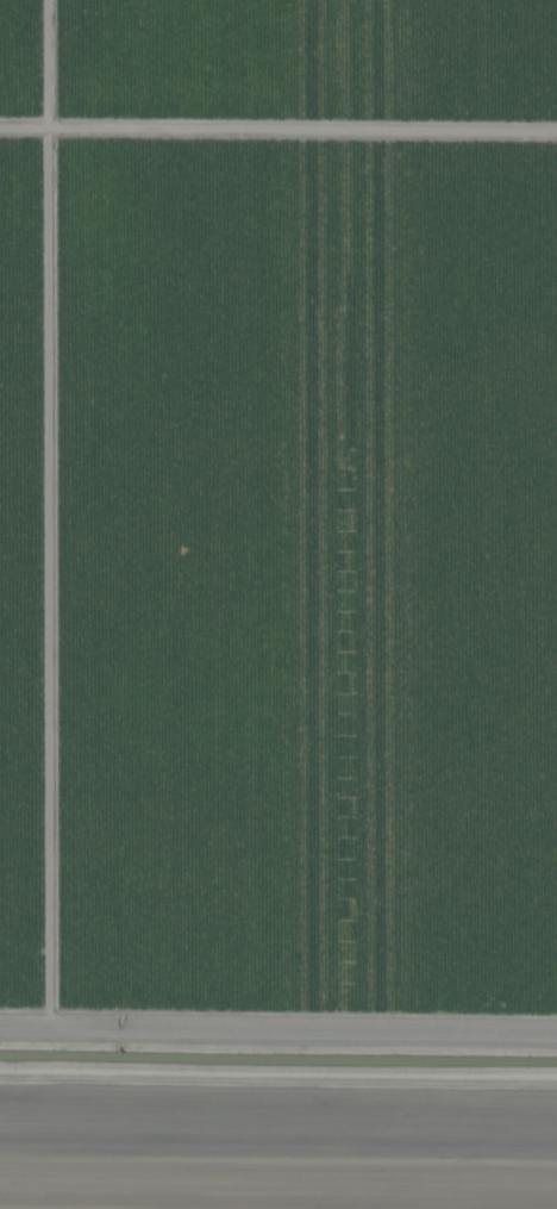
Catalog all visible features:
crop: (278, 604)

